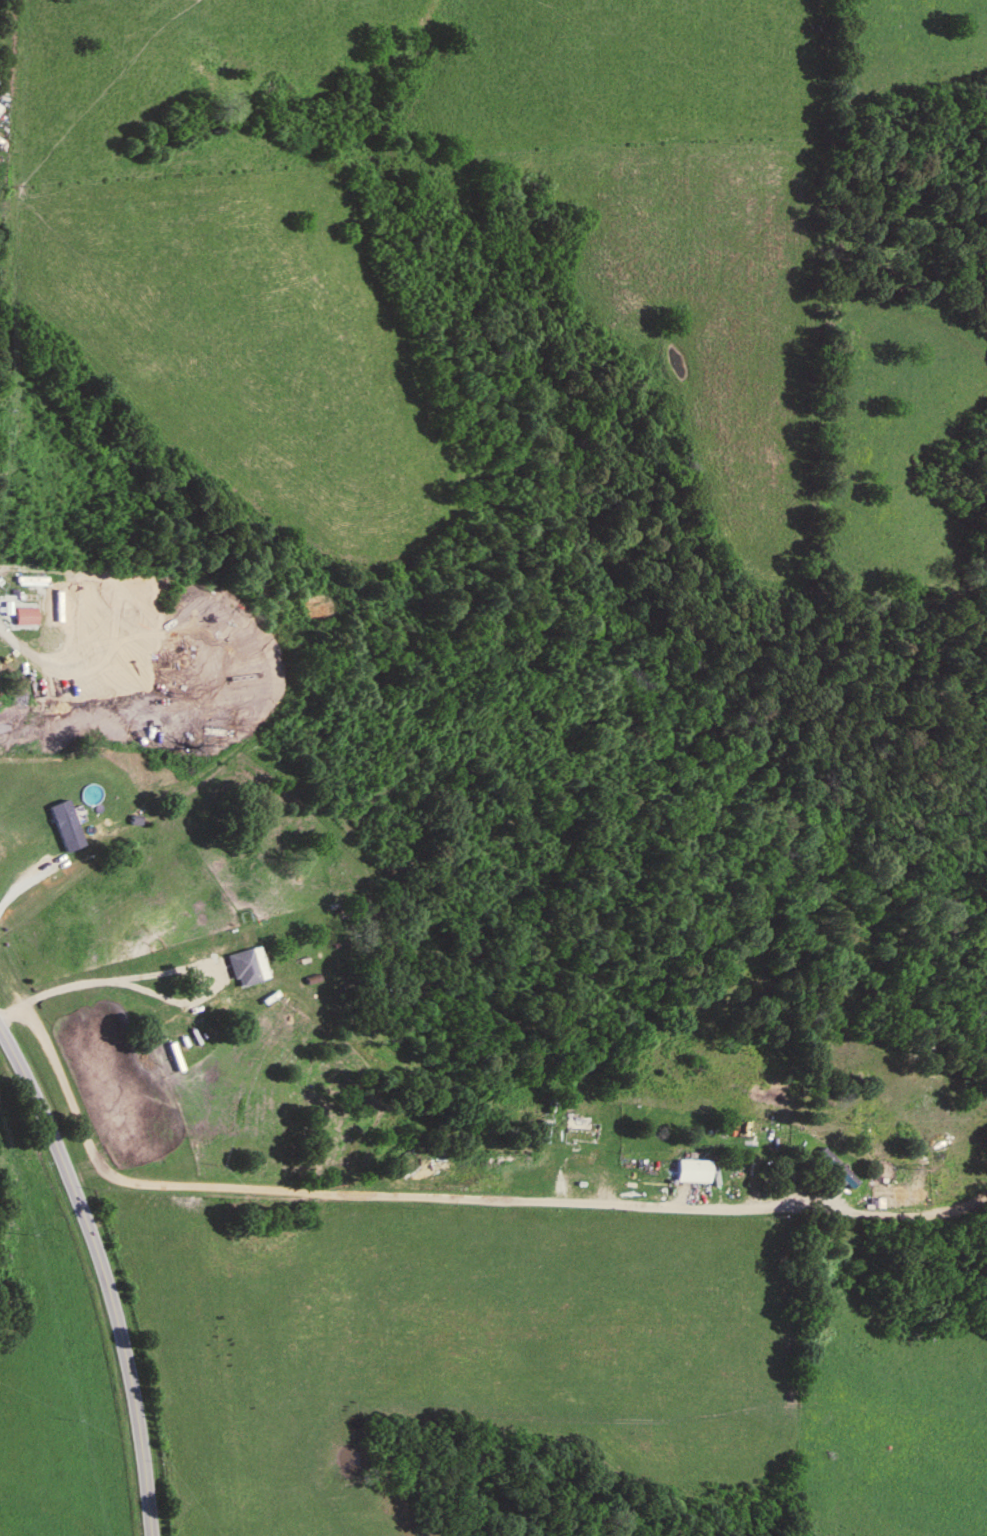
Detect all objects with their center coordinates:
building: (0, 108)
building: (49, 600)
building: (25, 619)
building: (582, 1135)
building: (837, 1170)
building: (694, 1173)
road: (357, 1197)
road: (102, 1276)

